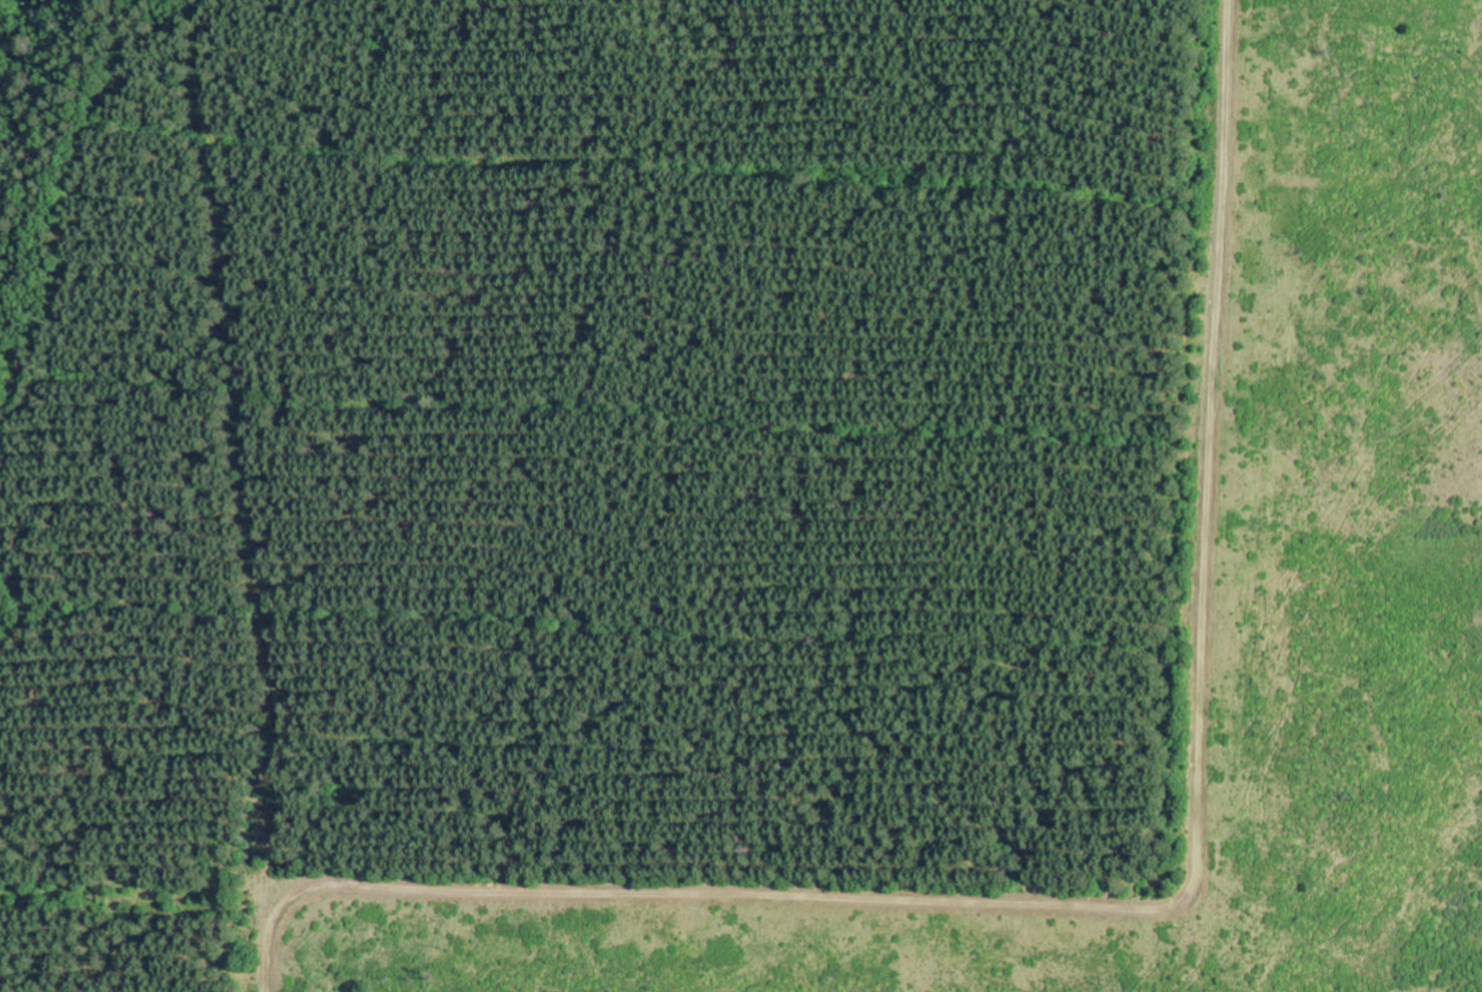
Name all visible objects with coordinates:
road: (1135, 908)

